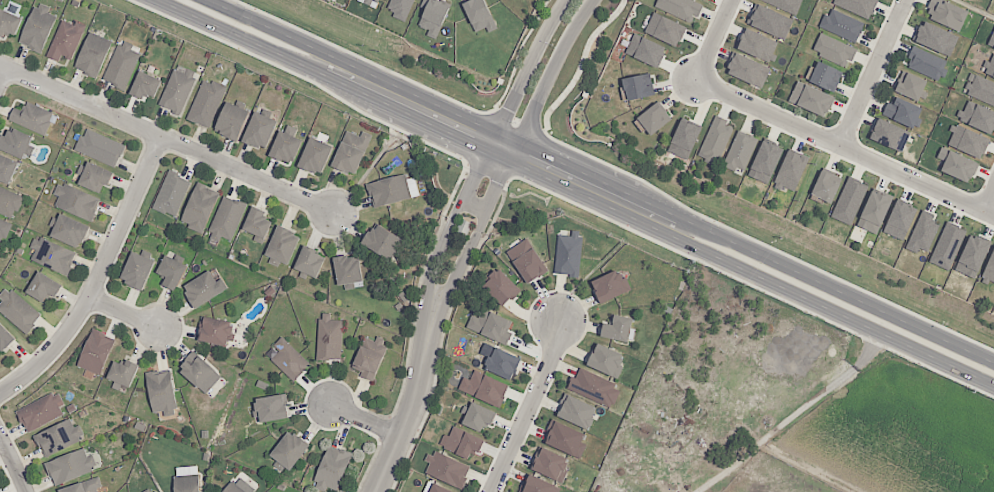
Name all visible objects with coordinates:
building: (704, 0)
building: (371, 2)
building: (785, 4)
building: (857, 6)
building: (681, 7)
building: (400, 8)
building: (946, 13)
building: (479, 15)
building: (433, 16)
building: (769, 21)
building: (9, 23)
building: (842, 25)
building: (665, 29)
building: (36, 30)
building: (935, 38)
road: (714, 40)
building: (65, 41)
building: (991, 41)
building: (756, 44)
building: (645, 50)
building: (833, 50)
building: (94, 55)
building: (927, 63)
building: (989, 67)
building: (120, 68)
road: (527, 69)
building: (747, 70)
road: (2, 73)
road: (872, 73)
road: (549, 74)
building: (825, 76)
building: (143, 86)
building: (637, 86)
building: (911, 86)
building: (980, 88)
building: (178, 91)
building: (810, 99)
building: (206, 103)
building: (902, 111)
building: (977, 117)
building: (33, 118)
building: (653, 118)
building: (230, 123)
building: (258, 131)
building: (889, 135)
building: (684, 139)
road: (166, 140)
building: (715, 141)
building: (967, 141)
traffic signals: (492, 142)
building: (16, 143)
building: (101, 148)
building: (284, 148)
road: (844, 149)
building: (740, 151)
traffic signals: (513, 152)
building: (350, 153)
building: (314, 158)
building: (765, 162)
building: (957, 165)
building: (6, 170)
road: (478, 170)
building: (790, 171)
building: (93, 178)
road: (500, 181)
road: (588, 186)
building: (826, 186)
building: (386, 191)
building: (171, 195)
road: (988, 197)
building: (8, 202)
building: (848, 202)
building: (77, 203)
road: (476, 204)
building: (199, 208)
building: (874, 212)
building: (228, 220)
building: (900, 220)
building: (256, 225)
building: (3, 229)
building: (68, 231)
building: (922, 232)
building: (382, 243)
building: (282, 245)
building: (947, 246)
building: (568, 254)
building: (972, 256)
building: (54, 258)
building: (523, 260)
building: (309, 263)
road: (434, 265)
building: (990, 267)
building: (136, 270)
building: (170, 272)
building: (346, 272)
road: (457, 274)
road: (97, 279)
building: (496, 285)
building: (606, 286)
building: (39, 289)
building: (203, 289)
building: (17, 311)
road: (126, 312)
building: (490, 325)
building: (615, 327)
building: (214, 332)
building: (4, 338)
building: (330, 340)
building: (96, 353)
building: (369, 358)
building: (603, 358)
building: (290, 359)
building: (501, 361)
building: (123, 373)
building: (196, 373)
building: (591, 385)
building: (482, 387)
building: (161, 391)
road: (528, 405)
building: (268, 407)
building: (576, 410)
building: (39, 412)
road: (798, 412)
building: (478, 415)
road: (407, 417)
road: (365, 419)
building: (562, 436)
building: (56, 439)
building: (462, 440)
building: (288, 453)
building: (548, 462)
road: (14, 464)
building: (68, 468)
building: (332, 468)
building: (444, 469)
building: (186, 484)
building: (534, 485)
building: (81, 488)
building: (232, 488)
building: (437, 488)
building: (153, 491)

